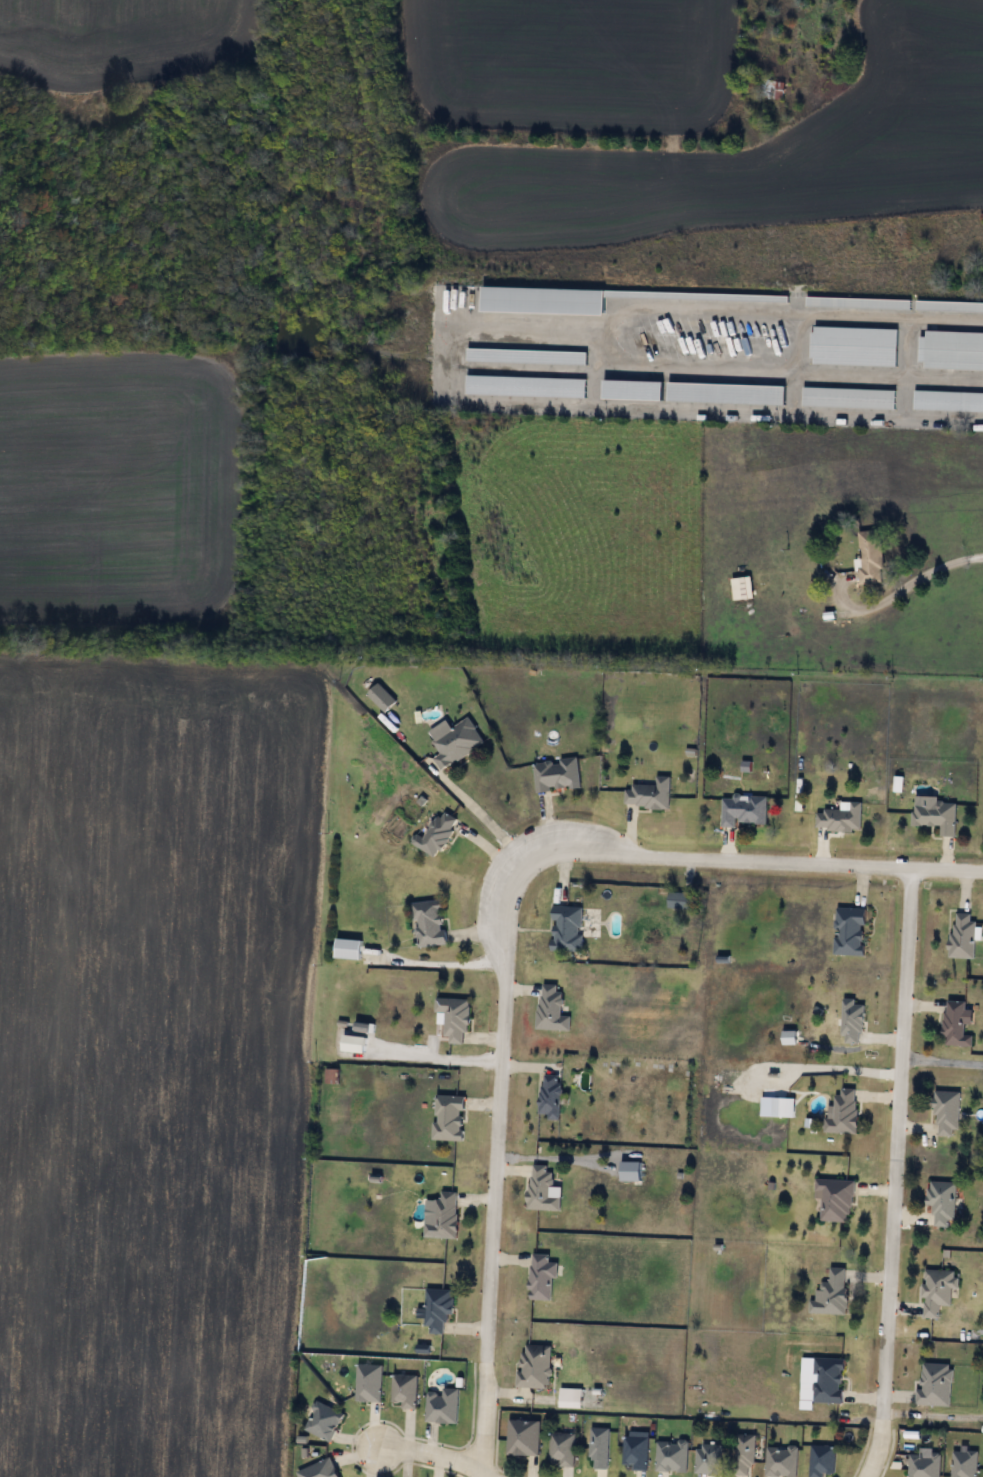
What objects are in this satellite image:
building: (771, 88)
building: (543, 300)
building: (856, 303)
building: (948, 306)
road: (599, 335)
building: (853, 346)
building: (952, 349)
building: (848, 397)
building: (948, 401)
building: (870, 556)
road: (908, 584)
building: (741, 588)
building: (380, 697)
building: (455, 742)
building: (556, 774)
building: (648, 793)
building: (743, 808)
building: (935, 815)
building: (839, 817)
road: (482, 822)
building: (435, 833)
road: (756, 859)
building: (680, 899)
building: (428, 922)
building: (567, 928)
building: (849, 931)
building: (962, 935)
building: (348, 948)
building: (551, 1008)
building: (454, 1018)
building: (852, 1021)
building: (956, 1023)
road: (942, 1055)
building: (330, 1075)
building: (549, 1095)
building: (842, 1111)
building: (946, 1112)
building: (448, 1117)
road: (492, 1167)
road: (895, 1173)
building: (542, 1188)
building: (834, 1198)
building: (942, 1202)
building: (443, 1216)
building: (540, 1276)
building: (937, 1290)
building: (830, 1293)
building: (436, 1308)
building: (533, 1366)
building: (825, 1381)
building: (368, 1382)
building: (935, 1384)
building: (403, 1390)
building: (442, 1406)
road: (934, 1413)
building: (323, 1421)
building: (522, 1436)
building: (562, 1447)
building: (599, 1447)
building: (635, 1449)
road: (436, 1455)
building: (671, 1455)
building: (744, 1455)
building: (708, 1458)
building: (821, 1459)
building: (781, 1461)
building: (924, 1463)
building: (963, 1463)
building: (319, 1469)

